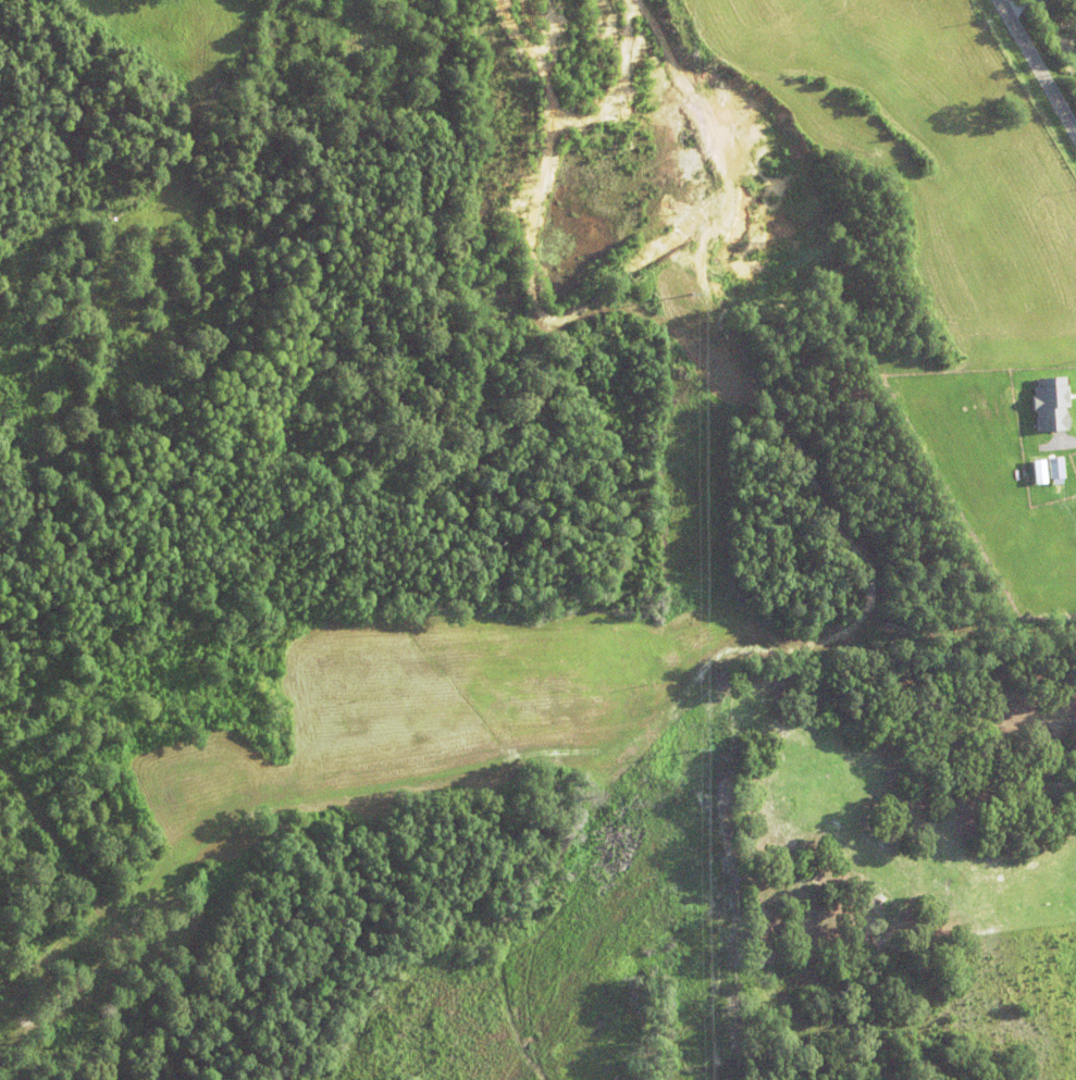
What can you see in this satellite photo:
road: (1036, 67)
building: (1049, 348)
building: (1052, 402)
building: (1053, 467)
building: (1036, 471)

